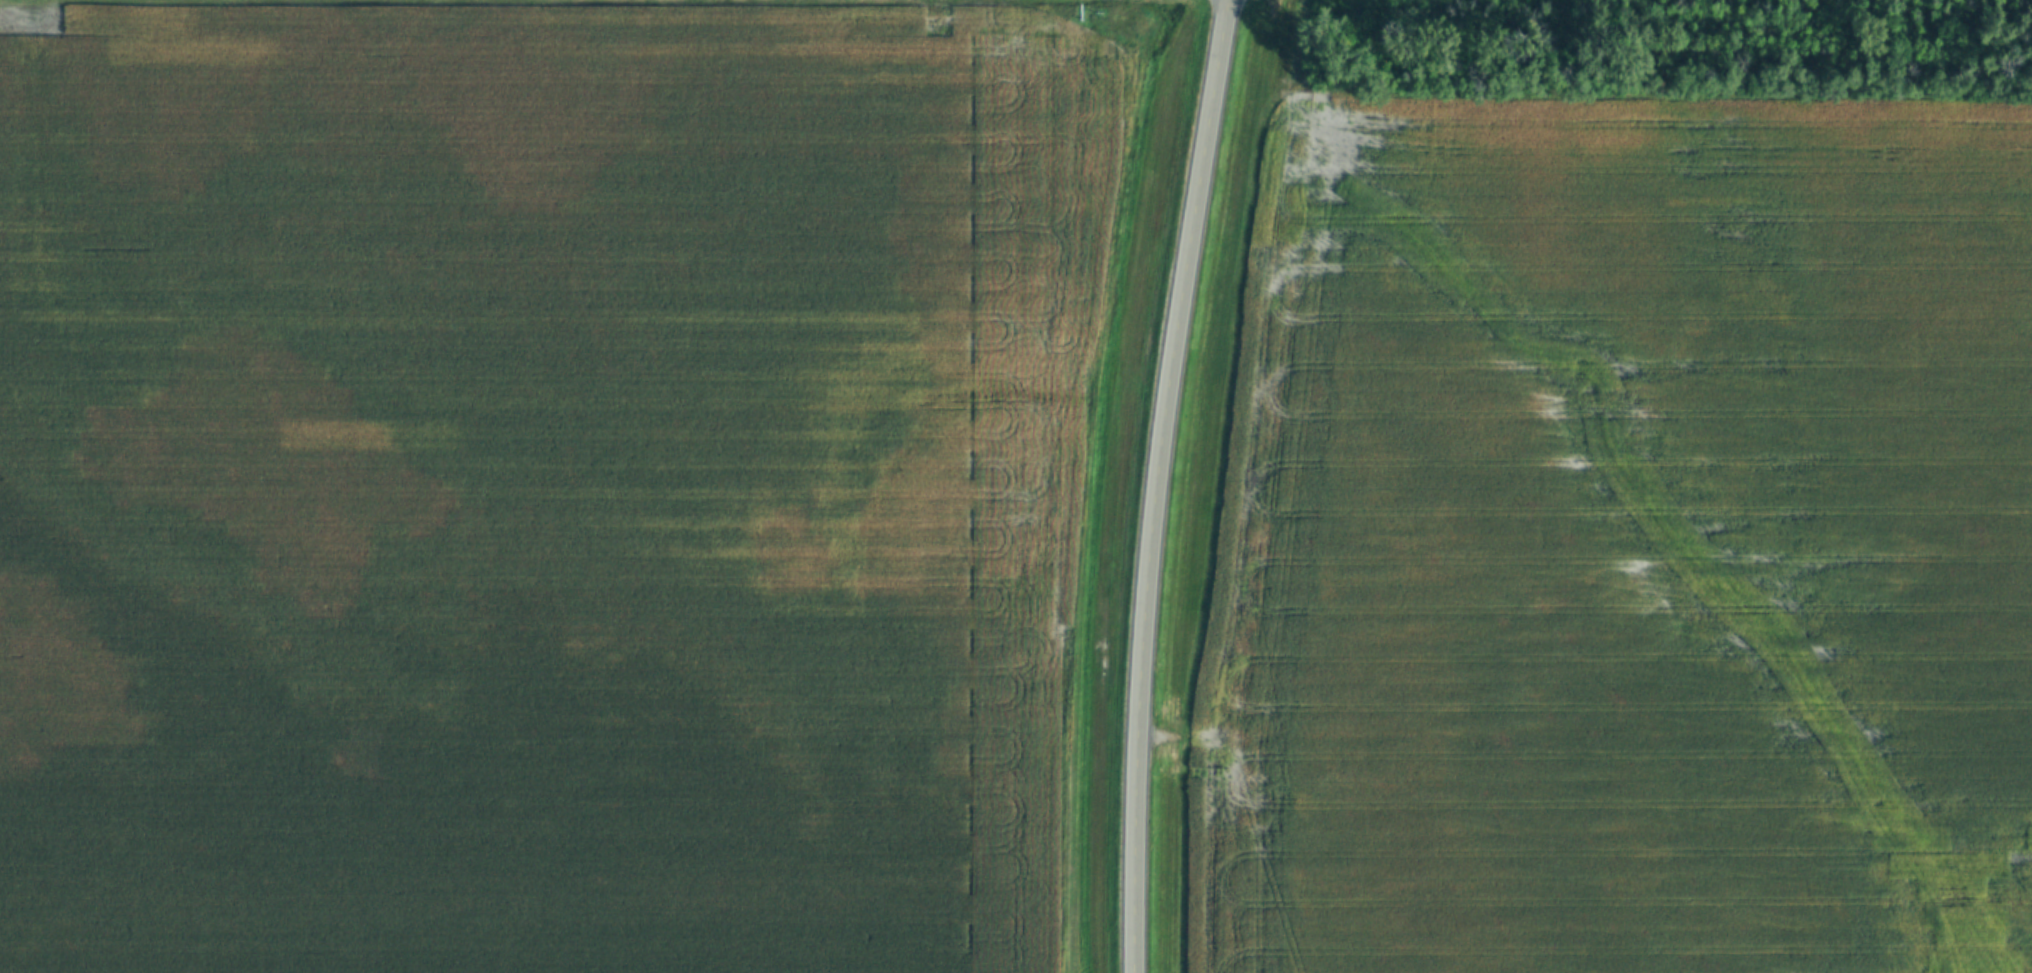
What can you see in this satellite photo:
road: (1199, 214)
road: (1143, 700)

